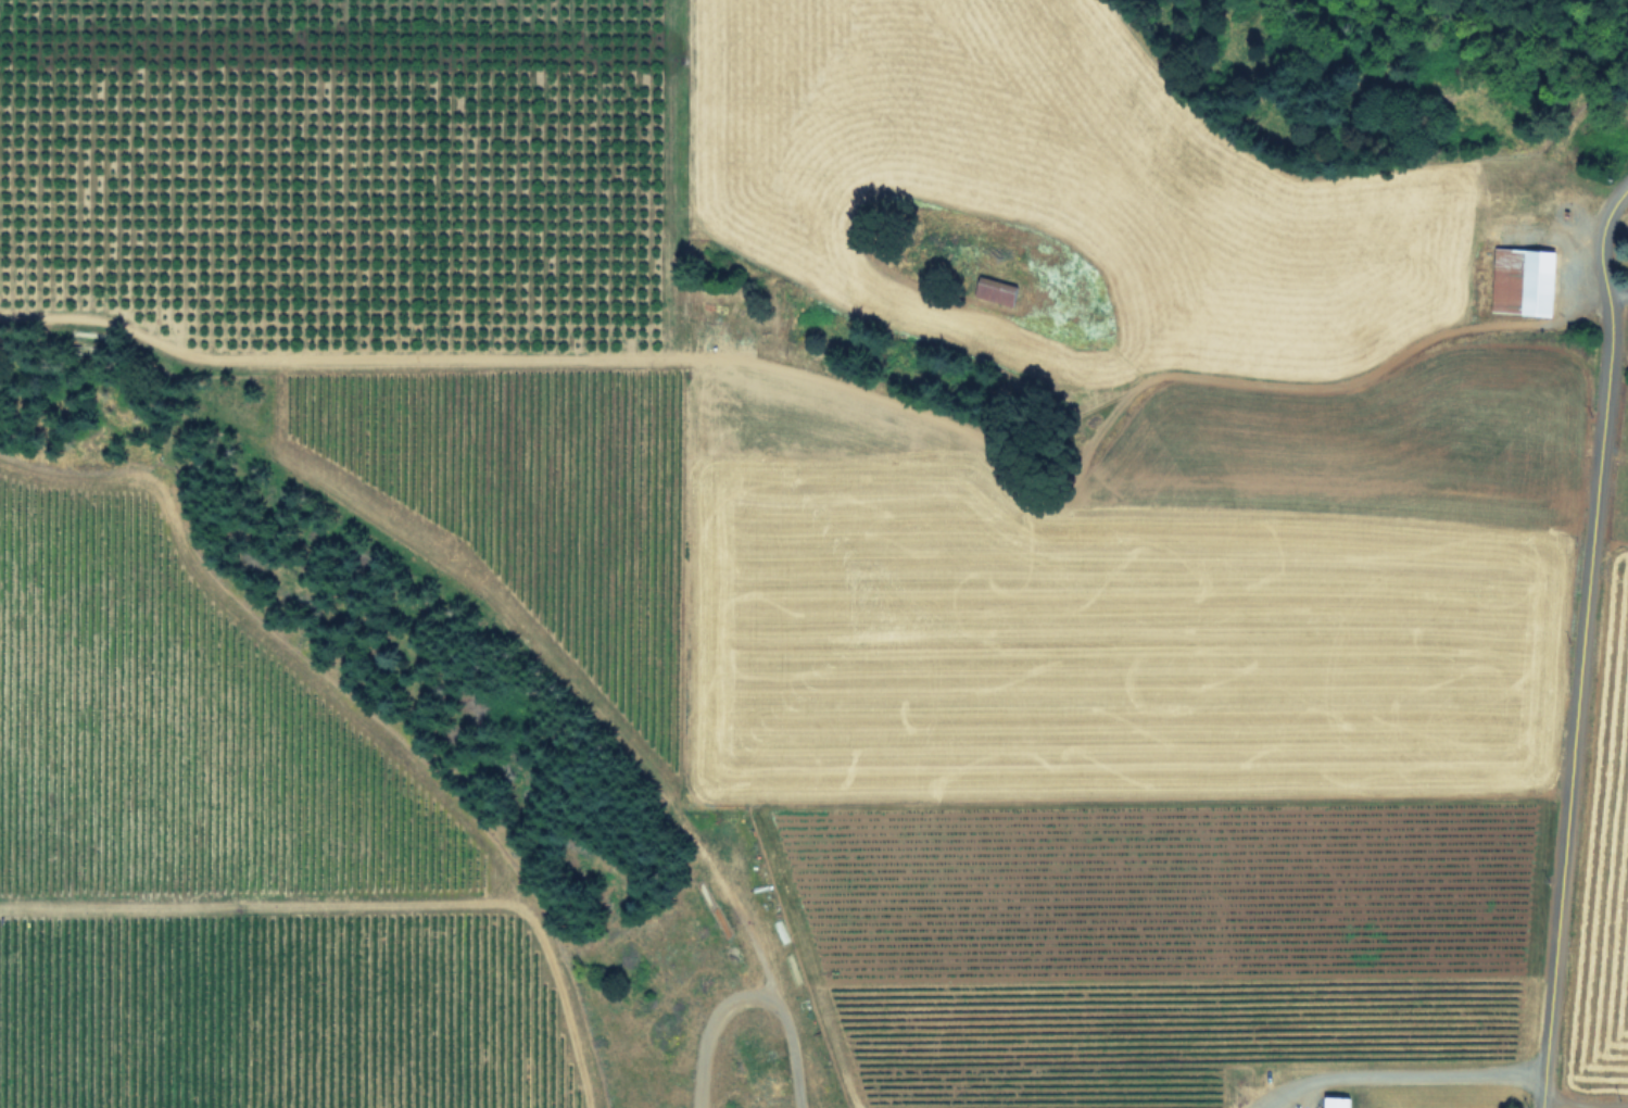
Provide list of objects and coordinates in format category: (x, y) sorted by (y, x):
building: (1519, 280)
building: (1000, 290)
road: (1616, 292)
crop: (1033, 552)
road: (1578, 640)
crop: (1602, 810)
crop: (230, 852)
road: (1396, 1071)
road: (1582, 1105)

